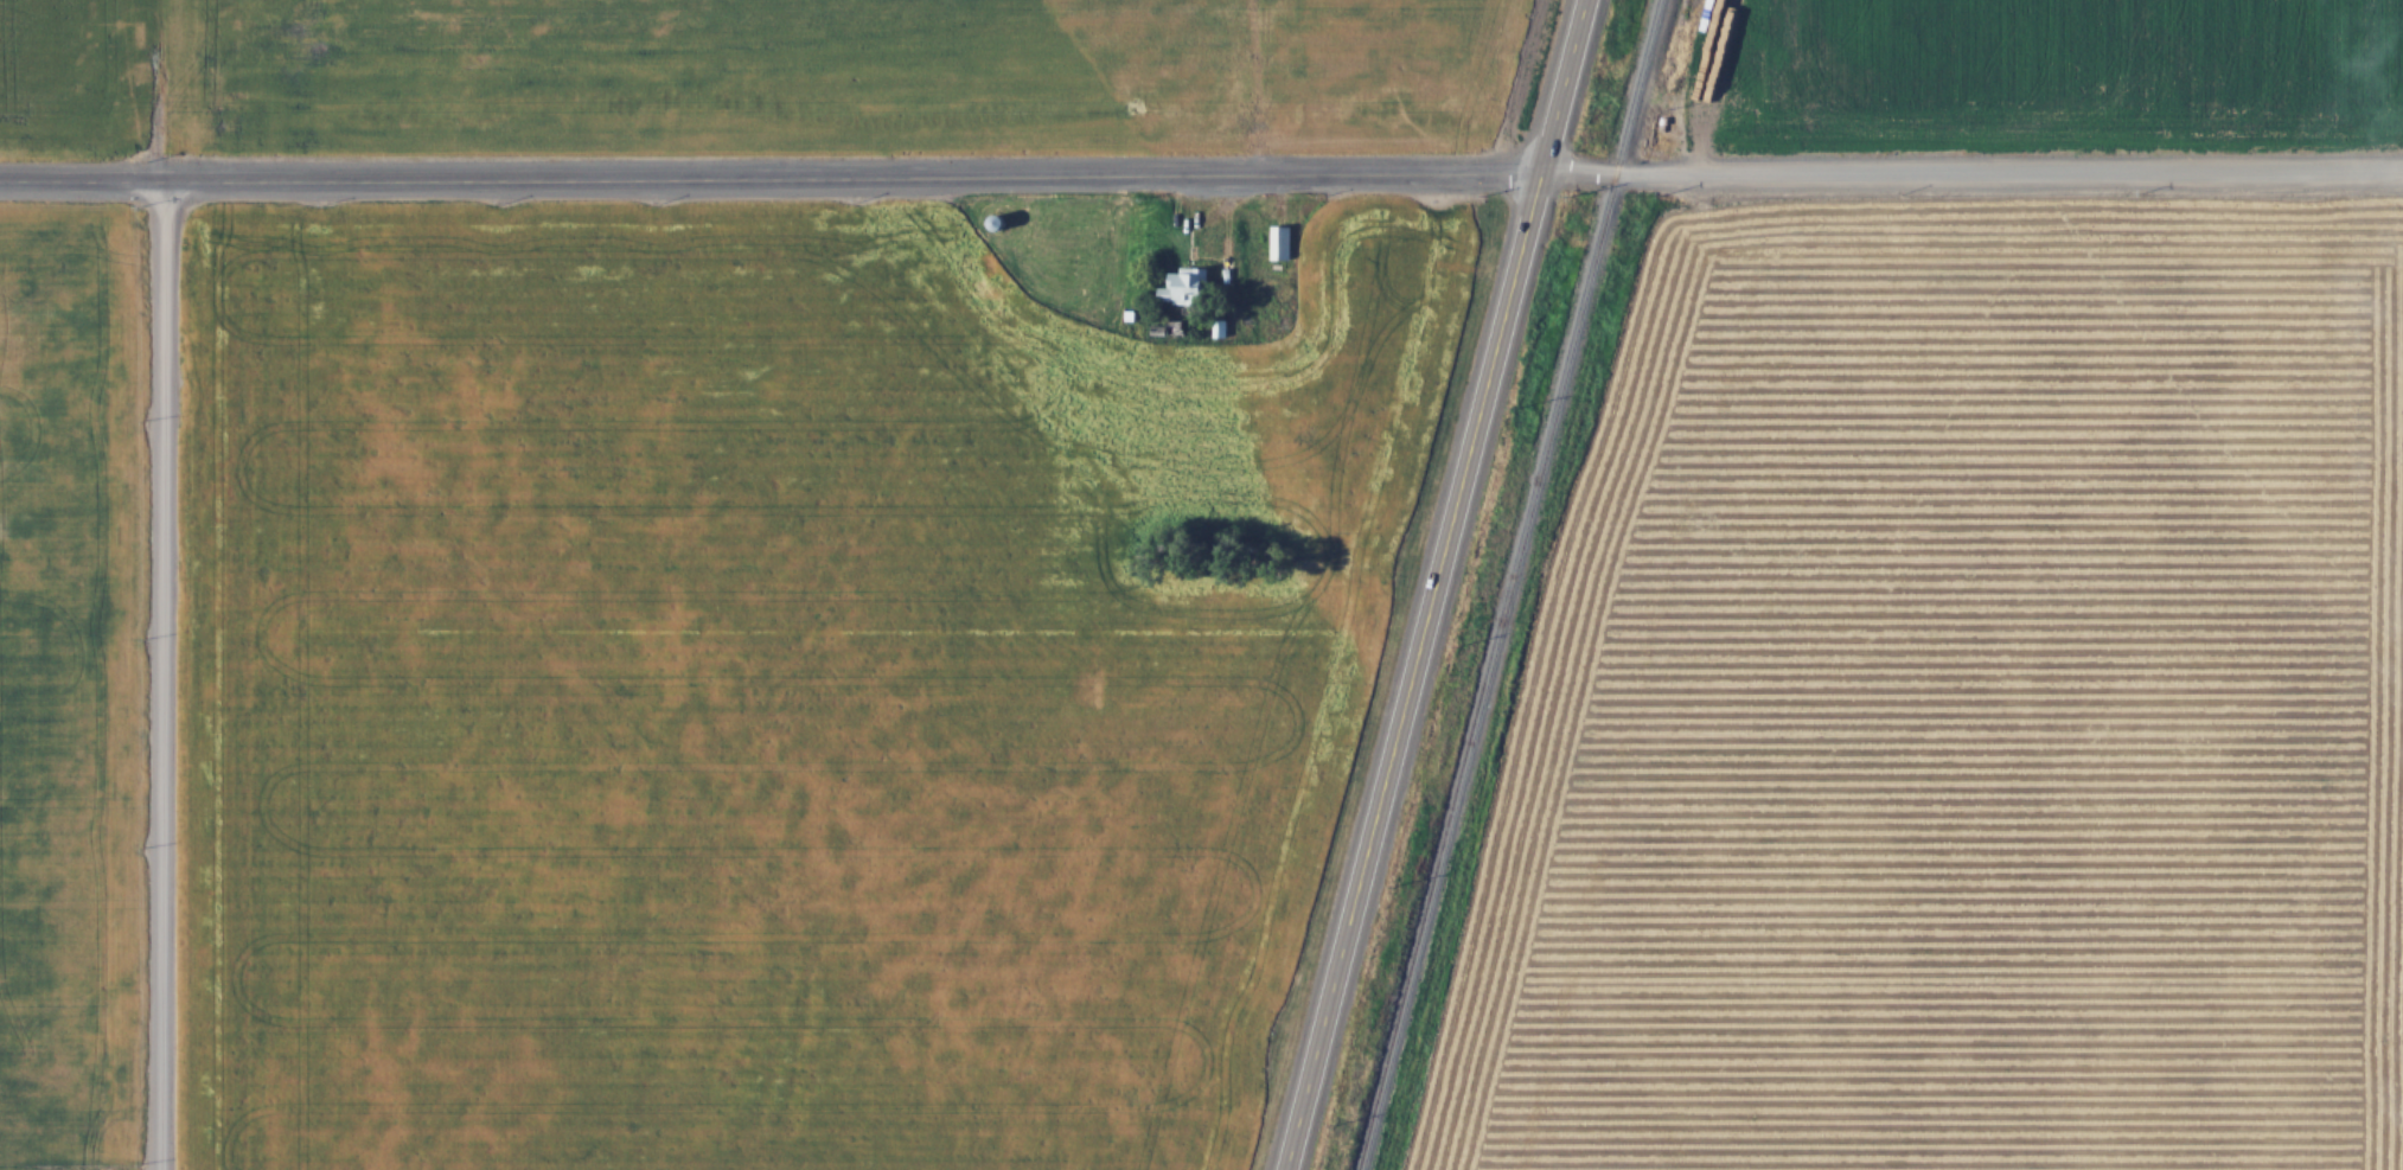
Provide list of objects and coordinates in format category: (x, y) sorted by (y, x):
road: (1973, 172)
road: (772, 174)
building: (1284, 241)
building: (989, 268)
building: (1188, 286)
road: (1438, 584)
railway: (1510, 584)
road: (167, 673)

